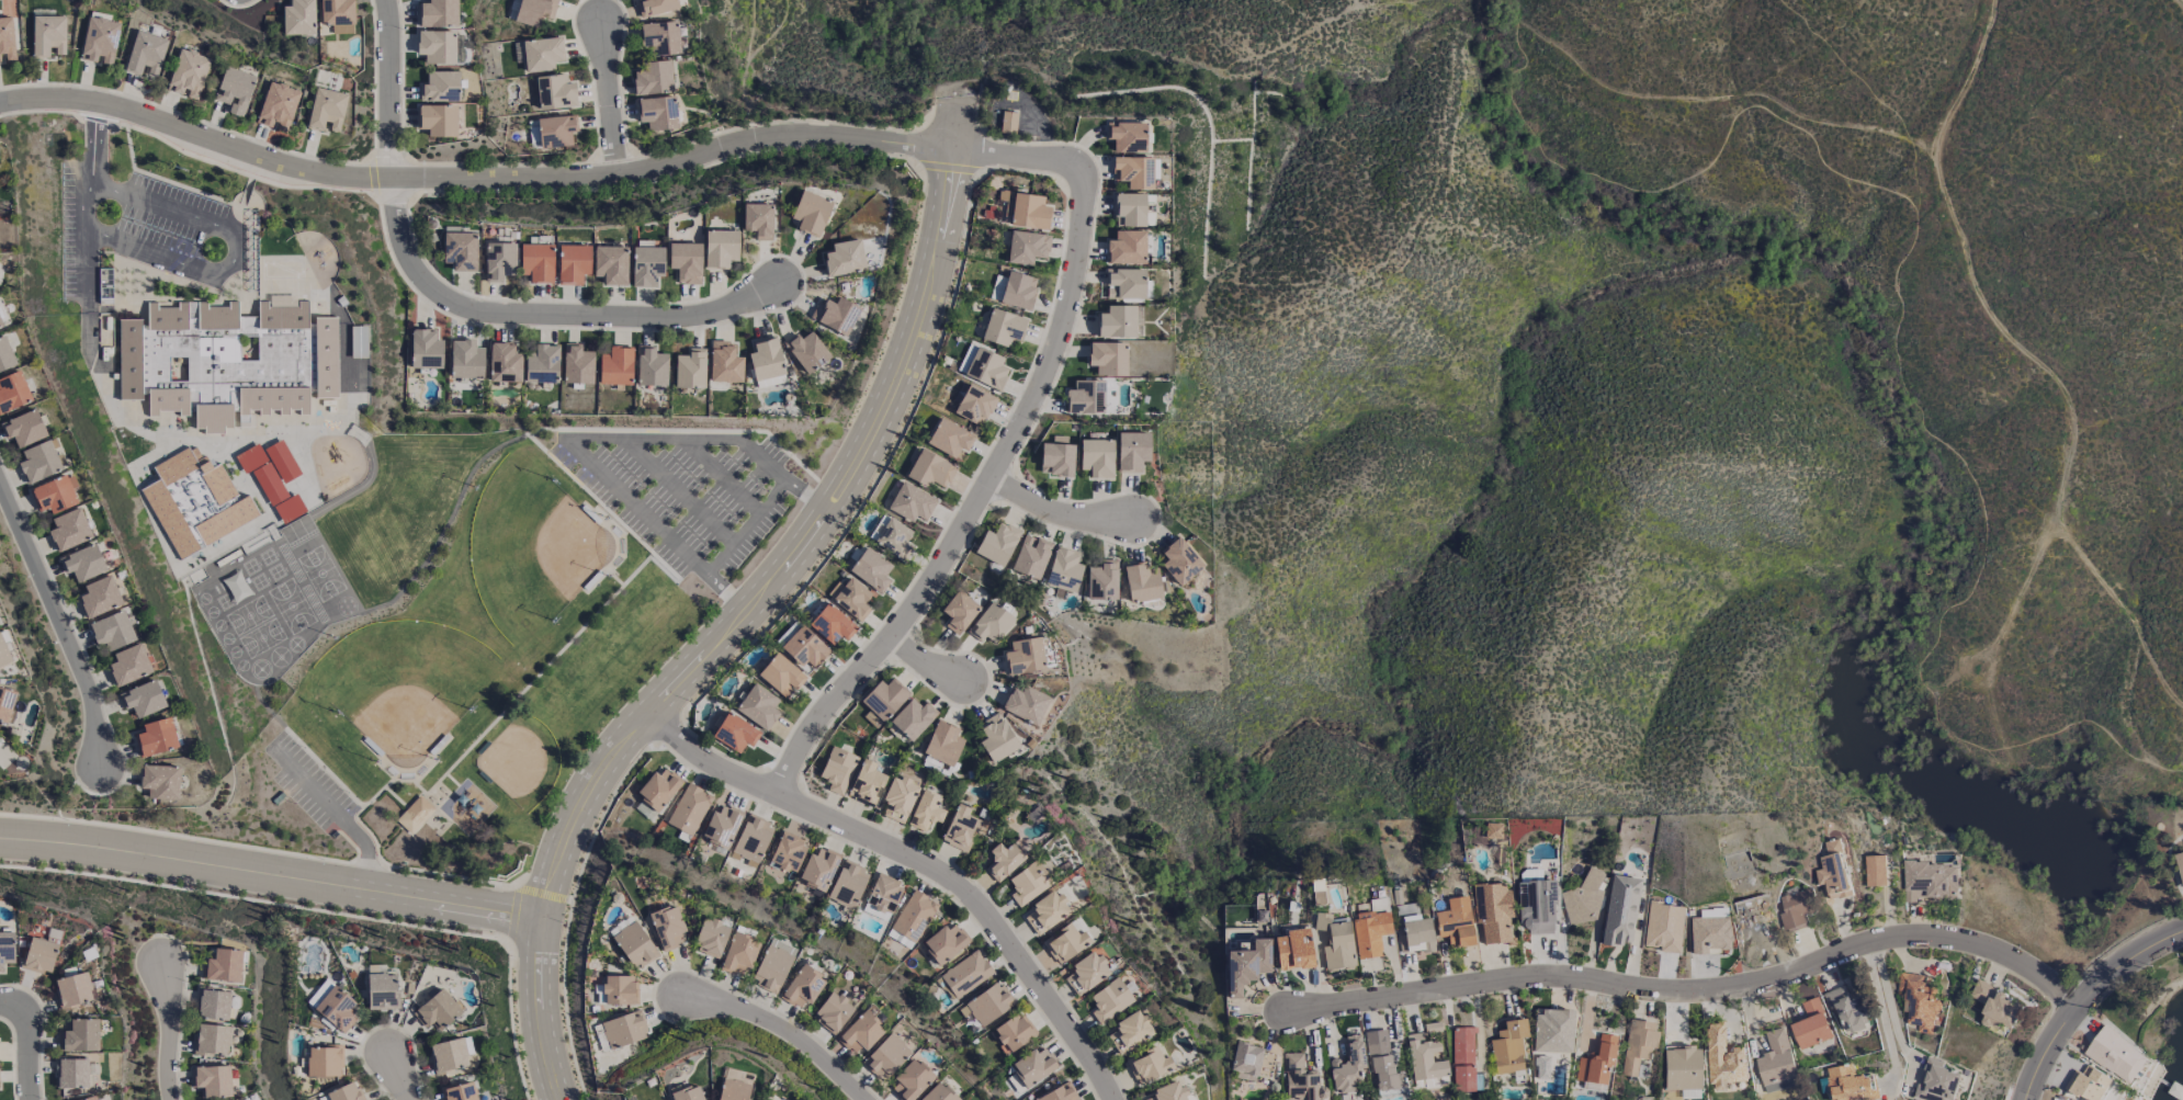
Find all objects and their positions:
road: (2178, 4)
building: (655, 7)
building: (534, 11)
building: (439, 13)
building: (338, 15)
building: (298, 18)
building: (47, 35)
building: (660, 37)
building: (7, 39)
building: (100, 41)
building: (437, 46)
building: (519, 53)
building: (146, 54)
building: (542, 54)
road: (748, 67)
building: (188, 73)
building: (653, 78)
road: (389, 86)
building: (440, 87)
building: (235, 90)
building: (555, 92)
road: (606, 92)
building: (278, 106)
building: (349, 109)
building: (326, 110)
building: (657, 113)
building: (1027, 116)
building: (438, 120)
building: (1008, 122)
building: (556, 132)
building: (1127, 136)
road: (94, 141)
road: (299, 168)
building: (1133, 172)
building: (1048, 206)
road: (84, 207)
building: (1025, 209)
building: (1129, 209)
building: (811, 213)
building: (758, 220)
building: (1045, 241)
building: (1027, 247)
building: (720, 248)
building: (1127, 248)
building: (460, 250)
road: (237, 251)
building: (844, 258)
building: (499, 261)
building: (536, 262)
building: (686, 262)
building: (573, 263)
building: (610, 264)
building: (647, 265)
road: (1088, 271)
building: (1037, 284)
building: (1126, 284)
building: (1016, 290)
road: (550, 311)
building: (836, 315)
building: (1021, 321)
building: (1117, 321)
building: (0, 327)
building: (1003, 328)
road: (1899, 331)
road: (2041, 347)
building: (426, 350)
building: (806, 351)
building: (5, 355)
building: (129, 359)
building: (765, 359)
building: (1108, 359)
building: (466, 360)
building: (240, 361)
building: (1004, 362)
building: (504, 363)
building: (542, 363)
building: (724, 363)
building: (577, 364)
building: (615, 366)
building: (651, 366)
building: (984, 367)
building: (690, 368)
building: (770, 382)
building: (13, 392)
building: (1086, 397)
building: (994, 399)
building: (974, 405)
road: (2135, 411)
road: (711, 426)
building: (24, 428)
road: (701, 432)
building: (968, 432)
road: (521, 438)
building: (950, 438)
building: (1150, 445)
building: (1075, 451)
building: (1132, 451)
building: (1115, 452)
building: (1056, 457)
building: (1096, 457)
building: (39, 462)
building: (948, 464)
building: (930, 469)
road: (740, 470)
building: (273, 477)
road: (697, 485)
parking lot: (704, 487)
road: (823, 488)
building: (54, 495)
building: (929, 497)
road: (622, 500)
road: (654, 501)
building: (195, 502)
building: (912, 502)
road: (1073, 504)
road: (765, 521)
building: (69, 530)
building: (913, 533)
building: (1016, 537)
building: (894, 538)
park: (548, 543)
building: (997, 544)
building: (1049, 552)
building: (1198, 555)
building: (1031, 557)
building: (1180, 562)
building: (83, 563)
building: (890, 564)
building: (1082, 564)
road: (682, 565)
building: (871, 569)
building: (1064, 569)
building: (1120, 575)
building: (1161, 576)
building: (1101, 581)
building: (1142, 582)
road: (744, 586)
building: (871, 593)
building: (100, 597)
building: (852, 599)
building: (977, 606)
road: (760, 608)
building: (958, 612)
building: (1009, 617)
building: (850, 619)
building: (991, 623)
road: (57, 624)
building: (832, 624)
building: (112, 631)
road: (2014, 638)
building: (822, 642)
building: (804, 647)
building: (1043, 650)
building: (3, 654)
road: (940, 656)
building: (1023, 656)
building: (128, 665)
road: (1973, 667)
road: (554, 670)
building: (800, 670)
park: (496, 674)
building: (781, 676)
park: (422, 678)
building: (903, 692)
road: (279, 696)
building: (144, 699)
building: (884, 699)
building: (1044, 699)
building: (777, 701)
building: (5, 703)
building: (1026, 704)
building: (759, 706)
building: (931, 713)
road: (297, 715)
building: (913, 718)
building: (754, 727)
building: (736, 733)
building: (1015, 733)
building: (157, 737)
building: (962, 737)
building: (997, 738)
building: (943, 744)
park: (543, 755)
road: (342, 761)
building: (856, 763)
river: (2089, 767)
building: (837, 770)
road: (470, 774)
building: (885, 778)
road: (326, 780)
parking lot: (328, 780)
building: (161, 781)
river: (1950, 781)
road: (437, 782)
building: (867, 782)
building: (677, 783)
road: (440, 786)
road: (395, 789)
building: (658, 789)
road: (414, 792)
building: (917, 793)
building: (898, 798)
building: (708, 804)
building: (945, 805)
building: (433, 808)
building: (689, 809)
building: (926, 810)
building: (414, 815)
building: (740, 820)
building: (980, 823)
building: (721, 825)
road: (453, 827)
road: (428, 828)
building: (960, 828)
building: (770, 835)
building: (753, 839)
building: (806, 847)
road: (385, 848)
road: (192, 853)
building: (788, 853)
building: (1022, 855)
road: (940, 859)
building: (1005, 860)
building: (837, 863)
building: (2180, 865)
building: (818, 869)
building: (1832, 870)
building: (1876, 871)
building: (1048, 877)
building: (867, 878)
building: (1930, 881)
building: (1028, 883)
building: (848, 884)
building: (903, 887)
building: (1601, 893)
building: (882, 897)
road: (468, 898)
building: (1554, 900)
building: (1583, 900)
building: (1814, 904)
building: (1639, 905)
building: (1512, 906)
building: (1065, 907)
building: (1537, 907)
building: (1796, 909)
building: (932, 910)
building: (1620, 910)
building: (1492, 911)
building: (1047, 912)
building: (1474, 917)
building: (912, 919)
building: (686, 921)
building: (1682, 921)
building: (1455, 922)
building: (1432, 923)
building: (667, 927)
building: (1370, 927)
building: (1388, 927)
building: (1663, 927)
building: (1728, 929)
building: (729, 931)
building: (1709, 933)
building: (651, 934)
building: (1354, 935)
building: (963, 937)
building: (710, 938)
building: (1084, 938)
building: (1336, 942)
building: (945, 943)
building: (1066, 943)
building: (1312, 944)
building: (634, 945)
building: (5, 948)
building: (758, 948)
building: (1293, 950)
building: (739, 953)
building: (39, 955)
building: (792, 960)
building: (1265, 960)
building: (773, 965)
building: (1246, 965)
building: (222, 966)
building: (1105, 967)
building: (985, 968)
building: (1087, 972)
building: (966, 974)
building: (822, 982)
building: (638, 985)
road: (1697, 985)
building: (802, 987)
building: (381, 988)
building: (73, 990)
building: (620, 990)
building: (1129, 995)
building: (1009, 997)
road: (2080, 997)
building: (316, 998)
building: (1110, 1000)
park: (2158, 1002)
building: (1919, 1003)
building: (213, 1005)
building: (852, 1005)
building: (987, 1005)
road: (1889, 1006)
building: (1995, 1006)
building: (336, 1008)
building: (1846, 1009)
building: (436, 1010)
building: (834, 1010)
road: (1881, 1018)
building: (642, 1023)
building: (879, 1024)
building: (1811, 1024)
building: (1571, 1025)
road: (805, 1027)
building: (1031, 1027)
building: (1149, 1027)
road: (174, 1030)
building: (1130, 1031)
building: (1552, 1031)
building: (861, 1032)
building: (1014, 1032)
building: (80, 1036)
road: (29, 1040)
building: (212, 1040)
building: (1655, 1040)
building: (1527, 1041)
building: (1638, 1045)
building: (1508, 1047)
building: (1444, 1048)
building: (904, 1052)
building: (1264, 1053)
building: (1480, 1053)
building: (1742, 1053)
building: (2115, 1054)
building: (448, 1055)
building: (1400, 1055)
building: (1615, 1055)
building: (886, 1056)
building: (1795, 1057)
building: (1052, 1059)
building: (1462, 1059)
building: (1723, 1059)
building: (325, 1061)
building: (1167, 1061)
building: (1245, 1061)
building: (1560, 1061)
building: (1597, 1061)
building: (1368, 1062)
building: (1776, 1063)
building: (1699, 1064)
building: (1150, 1065)
building: (1382, 1065)
building: (1033, 1066)
building: (1348, 1067)
building: (1682, 1071)
road: (414, 1073)
building: (71, 1074)
building: (1317, 1074)
building: (928, 1076)
building: (212, 1080)
building: (1301, 1080)
building: (910, 1081)
building: (1936, 1081)
building: (1850, 1084)
building: (2088, 1084)
building: (750, 1088)
building: (733, 1089)
building: (459, 1091)
building: (706, 1091)
building: (957, 1091)
building: (1076, 1091)
building: (1187, 1091)
building: (344, 1092)
building: (688, 1093)
building: (92, 1098)
building: (788, 1098)
building: (768, 1099)
building: (981, 1099)

